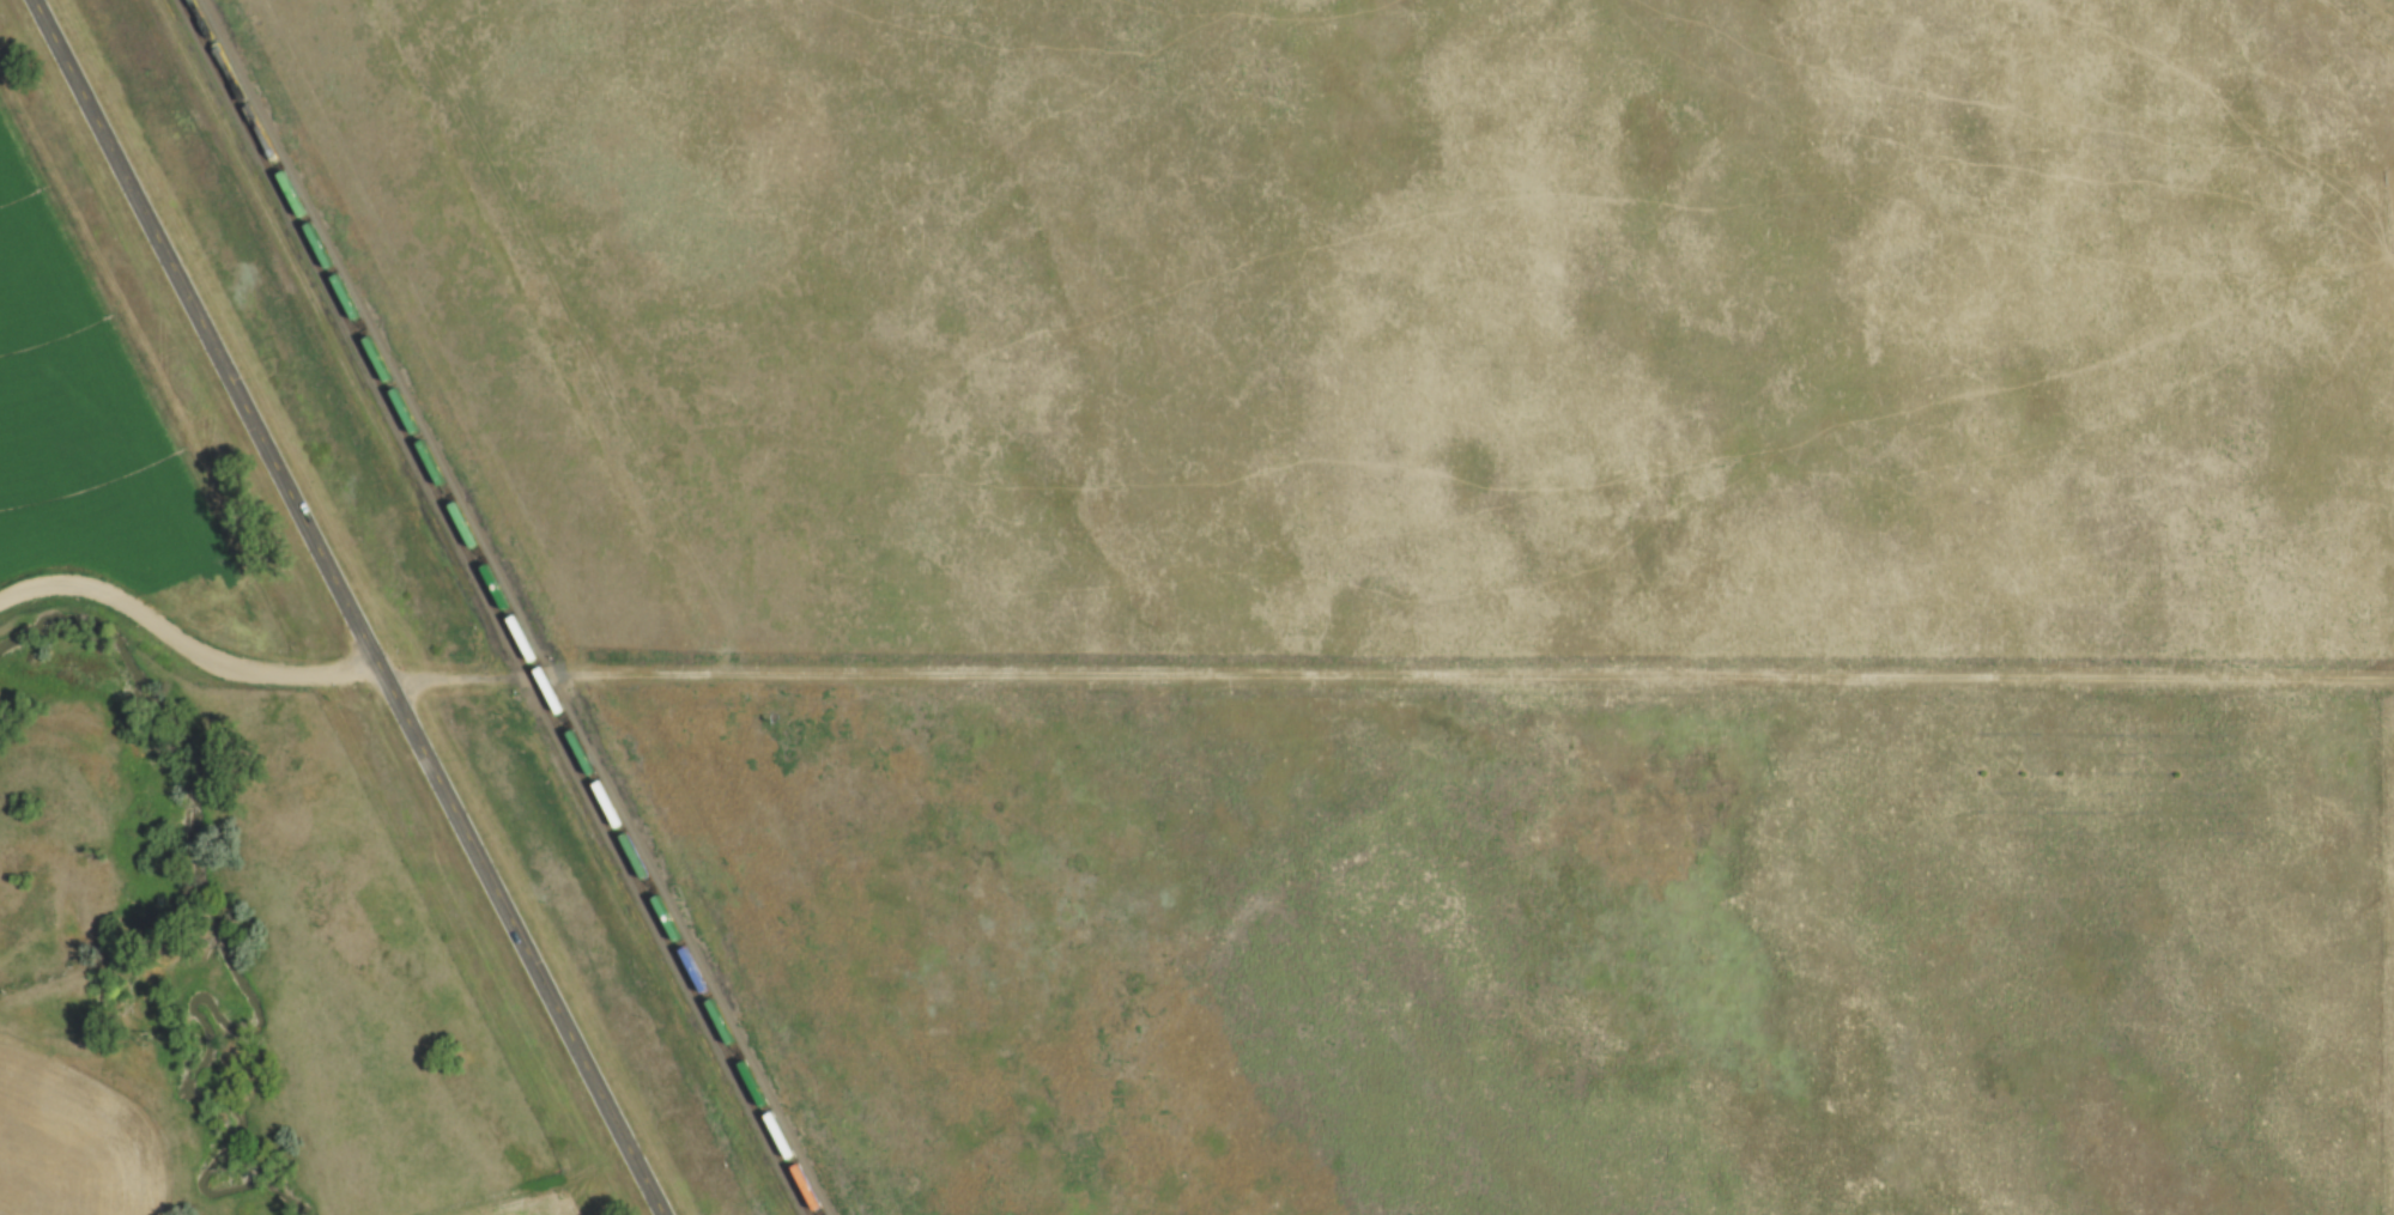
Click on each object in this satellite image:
crop: (98, 419)
road: (350, 607)
railway: (497, 607)
railway: (510, 607)
road: (1183, 673)
crop: (61, 1146)
crop: (541, 1207)

